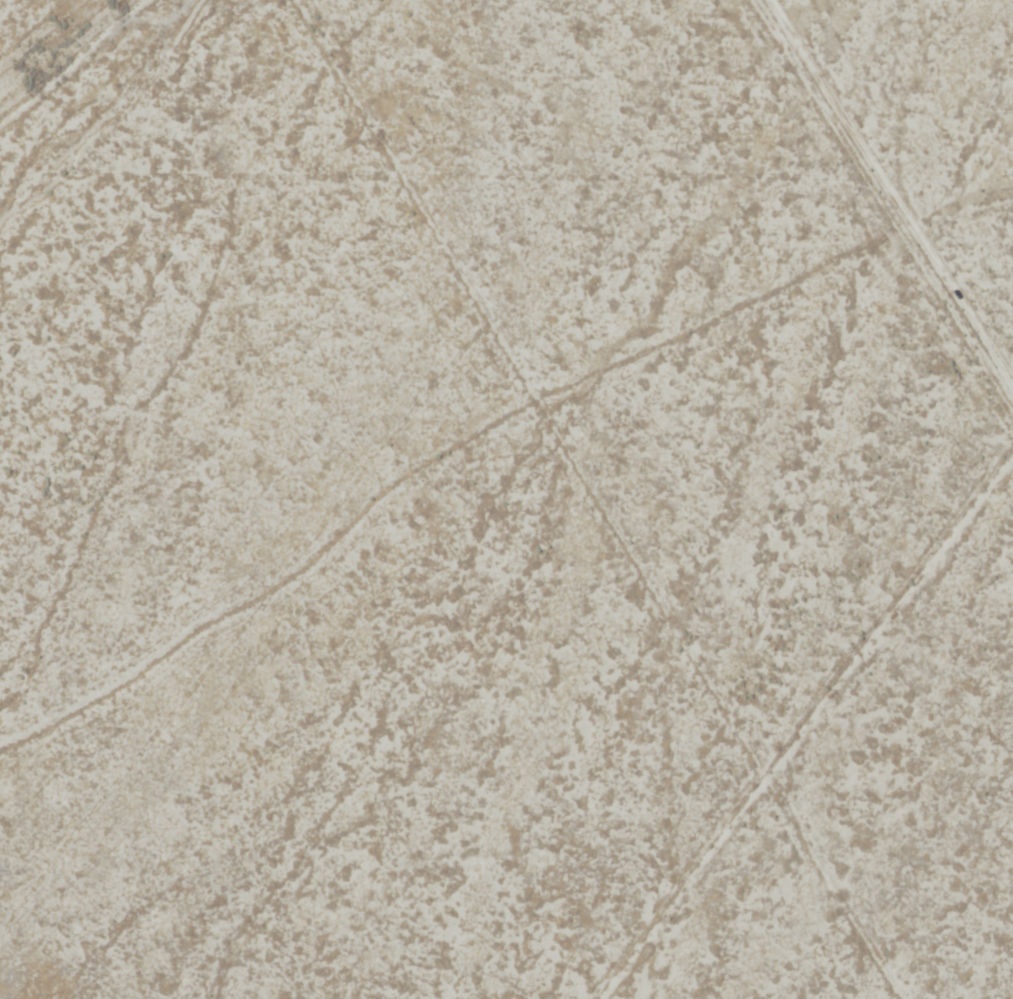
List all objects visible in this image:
road: (876, 216)

